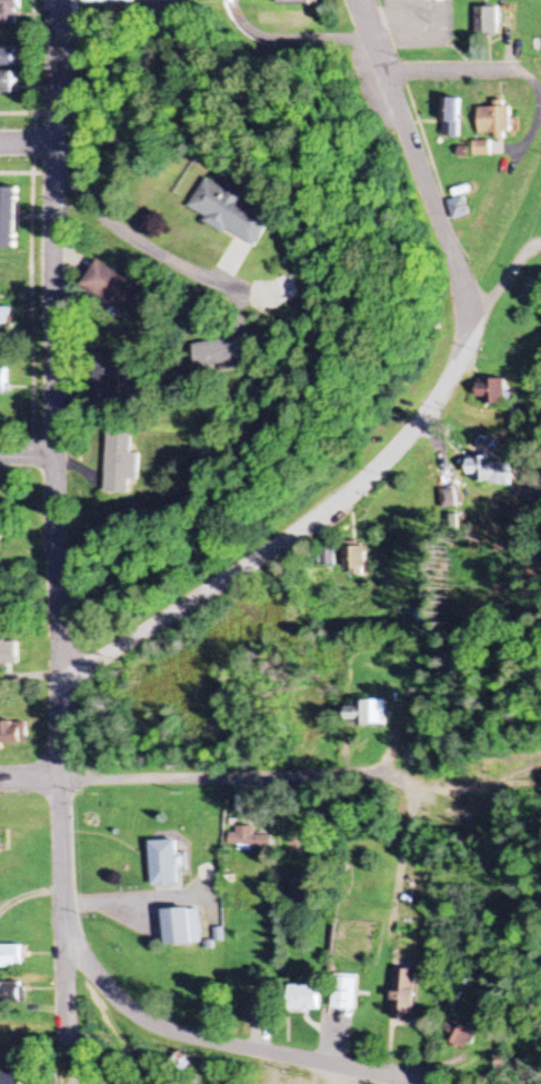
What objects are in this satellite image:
building: (108, 0)
building: (294, 2)
building: (9, 11)
building: (487, 20)
building: (7, 57)
road: (441, 76)
building: (7, 81)
building: (450, 117)
building: (494, 121)
road: (26, 142)
building: (458, 208)
building: (229, 210)
building: (10, 216)
road: (130, 236)
building: (118, 287)
building: (3, 314)
building: (227, 350)
building: (109, 371)
building: (3, 380)
building: (495, 391)
road: (418, 415)
road: (26, 453)
building: (123, 464)
building: (1, 527)
building: (325, 555)
building: (353, 560)
building: (8, 654)
road: (59, 654)
building: (367, 714)
building: (12, 732)
road: (200, 782)
building: (248, 837)
building: (163, 864)
building: (180, 927)
building: (11, 956)
building: (10, 992)
building: (342, 994)
building: (402, 995)
building: (300, 998)
building: (457, 1034)
building: (9, 1078)

